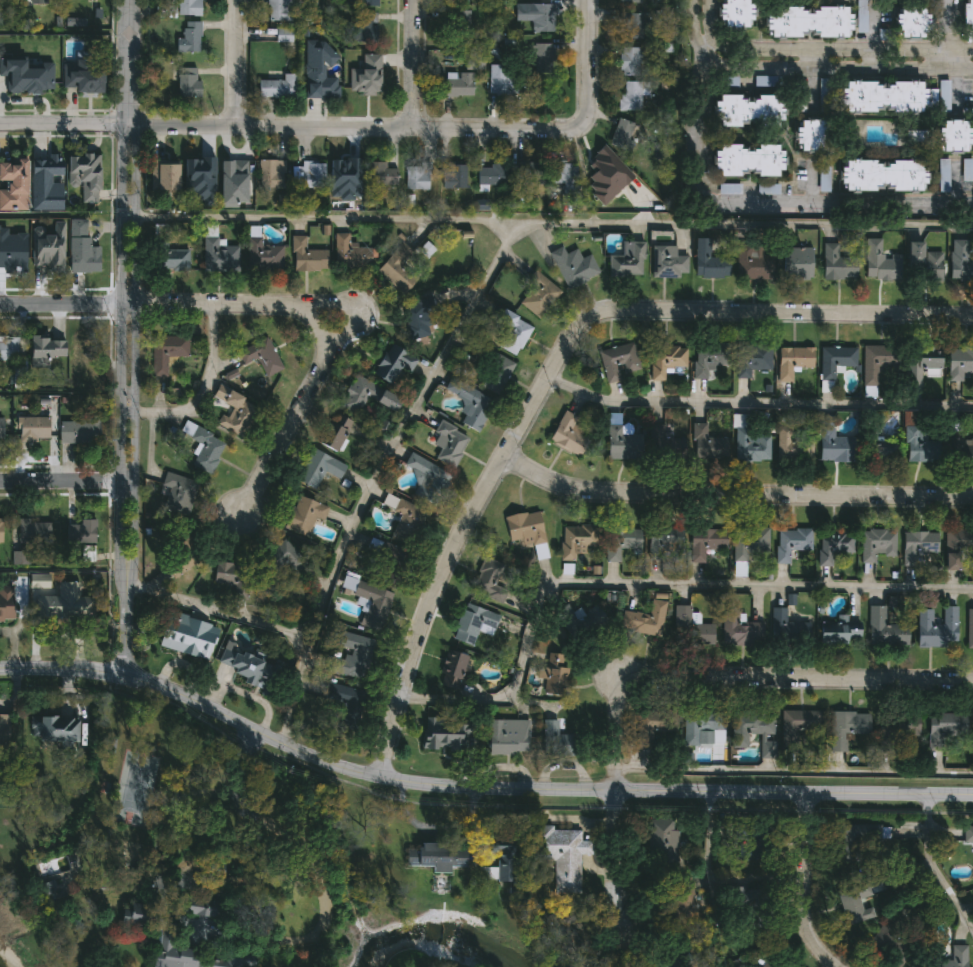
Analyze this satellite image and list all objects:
building: (9, 0)
building: (44, 0)
building: (631, 1)
building: (368, 3)
building: (181, 8)
building: (279, 10)
building: (734, 13)
building: (969, 13)
building: (536, 15)
building: (861, 16)
building: (455, 18)
road: (707, 20)
building: (807, 20)
building: (911, 21)
building: (631, 24)
road: (691, 27)
building: (364, 28)
road: (944, 34)
building: (283, 35)
building: (188, 37)
road: (871, 39)
road: (842, 50)
building: (541, 58)
road: (586, 60)
building: (630, 60)
building: (473, 62)
road: (231, 63)
building: (373, 63)
road: (407, 63)
road: (835, 67)
building: (319, 70)
building: (39, 78)
building: (85, 79)
building: (8, 80)
street lamp: (118, 80)
street lamp: (140, 80)
building: (498, 80)
road: (812, 81)
building: (362, 84)
building: (457, 84)
building: (187, 85)
building: (277, 87)
road: (954, 92)
building: (942, 94)
building: (882, 95)
building: (630, 96)
building: (751, 109)
road: (694, 119)
road: (290, 126)
building: (622, 134)
building: (812, 134)
building: (956, 135)
building: (748, 159)
building: (606, 167)
building: (967, 169)
building: (345, 173)
building: (527, 173)
building: (270, 174)
building: (307, 174)
building: (380, 174)
building: (490, 174)
building: (942, 174)
building: (84, 175)
building: (562, 175)
building: (883, 175)
building: (164, 176)
building: (416, 176)
building: (452, 176)
building: (199, 179)
building: (233, 182)
building: (46, 183)
road: (810, 184)
building: (14, 185)
road: (954, 186)
building: (767, 189)
road: (838, 206)
street lamp: (129, 215)
road: (546, 223)
road: (121, 240)
building: (48, 241)
building: (80, 249)
building: (350, 253)
building: (218, 255)
building: (167, 256)
building: (262, 256)
building: (306, 257)
building: (710, 259)
building: (626, 260)
building: (10, 262)
building: (667, 262)
building: (752, 262)
building: (880, 262)
building: (959, 262)
building: (797, 263)
building: (923, 263)
building: (837, 264)
building: (572, 267)
building: (396, 269)
building: (538, 294)
road: (134, 298)
road: (147, 303)
building: (416, 319)
street lamp: (377, 332)
building: (512, 332)
building: (44, 346)
building: (8, 349)
building: (166, 352)
building: (261, 356)
building: (82, 357)
building: (708, 358)
building: (750, 359)
building: (923, 359)
building: (834, 360)
building: (792, 361)
building: (618, 362)
building: (666, 362)
building: (959, 362)
building: (392, 363)
building: (873, 363)
road: (554, 365)
building: (495, 374)
road: (202, 394)
building: (366, 396)
building: (469, 403)
road: (757, 403)
road: (292, 404)
building: (233, 410)
street lamp: (127, 412)
building: (1, 430)
building: (34, 430)
building: (79, 431)
building: (568, 432)
building: (337, 433)
building: (669, 436)
building: (621, 440)
building: (447, 443)
building: (834, 443)
building: (706, 444)
building: (750, 446)
building: (791, 446)
building: (203, 447)
building: (920, 447)
building: (962, 450)
street lamp: (261, 452)
building: (884, 453)
building: (319, 468)
building: (427, 479)
road: (66, 482)
building: (175, 492)
road: (733, 493)
building: (303, 514)
road: (357, 514)
building: (403, 519)
building: (526, 530)
building: (1, 531)
building: (33, 532)
building: (80, 532)
road: (120, 539)
building: (575, 540)
building: (620, 542)
building: (705, 542)
building: (790, 542)
building: (748, 543)
building: (664, 544)
building: (875, 544)
building: (832, 545)
building: (917, 545)
building: (958, 548)
building: (180, 550)
building: (386, 561)
building: (283, 568)
building: (230, 573)
building: (488, 579)
road: (640, 584)
building: (59, 598)
building: (370, 602)
building: (6, 603)
building: (572, 618)
building: (643, 619)
building: (472, 623)
building: (936, 627)
building: (689, 628)
building: (787, 628)
building: (969, 628)
building: (885, 629)
building: (739, 630)
building: (837, 631)
road: (125, 632)
building: (187, 635)
building: (354, 657)
building: (246, 662)
building: (451, 669)
road: (679, 669)
building: (554, 673)
building: (335, 701)
building: (653, 725)
building: (799, 727)
building: (845, 727)
building: (53, 729)
building: (441, 729)
building: (702, 730)
building: (752, 730)
building: (944, 730)
building: (4, 731)
building: (506, 737)
building: (898, 739)
building: (555, 740)
road: (793, 772)
road: (474, 786)
park: (136, 794)
road: (249, 827)
building: (967, 834)
building: (861, 842)
building: (661, 844)
building: (561, 855)
building: (437, 856)
building: (503, 868)
road: (931, 868)
road: (802, 885)
building: (856, 901)
building: (134, 914)
building: (200, 918)
building: (892, 944)
building: (193, 954)
building: (951, 958)

